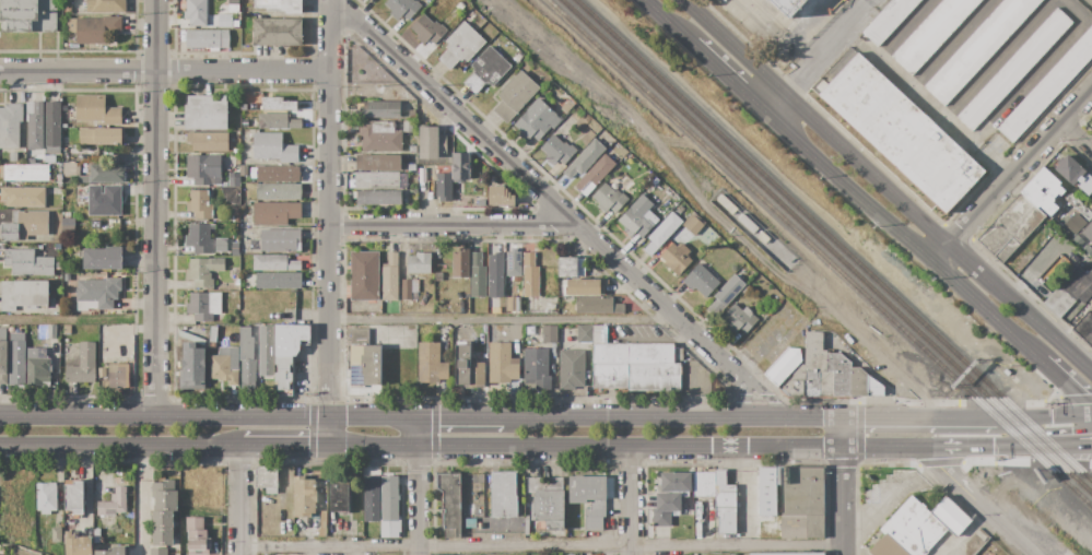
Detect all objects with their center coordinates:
building: (234, 3)
building: (281, 5)
building: (788, 5)
building: (106, 7)
building: (460, 7)
building: (402, 8)
building: (67, 9)
building: (196, 13)
building: (28, 16)
building: (471, 17)
building: (886, 20)
road: (669, 22)
building: (236, 24)
building: (97, 28)
building: (428, 29)
building: (278, 32)
building: (492, 33)
building: (930, 33)
building: (236, 34)
building: (245, 35)
building: (208, 39)
road: (823, 45)
building: (460, 46)
building: (978, 49)
building: (518, 57)
building: (486, 70)
road: (165, 71)
building: (1013, 71)
road: (727, 78)
building: (1047, 88)
building: (515, 96)
building: (278, 104)
building: (250, 107)
building: (567, 107)
building: (95, 109)
building: (380, 110)
building: (206, 113)
building: (412, 114)
road: (939, 114)
building: (277, 121)
building: (536, 121)
building: (10, 125)
building: (1091, 125)
building: (407, 126)
building: (35, 127)
building: (52, 129)
building: (897, 130)
road: (1079, 133)
building: (380, 135)
building: (102, 137)
building: (213, 141)
building: (431, 142)
building: (273, 147)
building: (412, 150)
building: (235, 151)
building: (557, 151)
building: (13, 156)
building: (50, 160)
building: (585, 160)
building: (243, 161)
building: (39, 162)
building: (378, 163)
building: (461, 166)
building: (71, 169)
building: (203, 169)
building: (1069, 169)
building: (24, 173)
building: (107, 174)
building: (278, 175)
building: (596, 175)
road: (1011, 178)
building: (83, 180)
building: (381, 180)
building: (234, 181)
building: (1085, 185)
building: (444, 187)
road: (537, 187)
road: (885, 188)
building: (54, 190)
building: (279, 191)
building: (1043, 191)
building: (232, 193)
building: (23, 197)
building: (500, 197)
building: (378, 198)
building: (610, 199)
building: (105, 200)
building: (200, 204)
building: (726, 204)
building: (1079, 206)
building: (1091, 206)
railway: (773, 208)
road: (157, 209)
building: (275, 213)
building: (236, 219)
building: (67, 223)
road: (330, 223)
building: (636, 223)
building: (1073, 223)
building: (748, 224)
building: (95, 225)
building: (692, 225)
building: (25, 226)
road: (455, 227)
building: (1011, 227)
building: (661, 233)
building: (1088, 234)
road: (900, 236)
building: (763, 238)
building: (199, 239)
railway: (833, 239)
building: (280, 241)
building: (221, 246)
railway: (827, 247)
building: (235, 248)
building: (102, 258)
building: (676, 258)
building: (269, 262)
building: (27, 263)
building: (420, 263)
building: (460, 263)
building: (514, 264)
building: (58, 265)
building: (571, 267)
building: (203, 271)
building: (364, 275)
building: (530, 275)
building: (478, 276)
building: (495, 276)
building: (66, 277)
building: (250, 281)
building: (279, 281)
building: (701, 281)
building: (390, 284)
building: (586, 286)
building: (410, 290)
building: (30, 293)
building: (1067, 293)
building: (97, 294)
building: (725, 295)
building: (1090, 302)
building: (598, 305)
building: (203, 306)
building: (513, 306)
building: (551, 306)
building: (739, 319)
road: (501, 320)
building: (1084, 328)
building: (67, 330)
building: (538, 330)
building: (43, 332)
building: (51, 332)
building: (492, 333)
building: (584, 333)
building: (213, 334)
building: (550, 334)
road: (646, 334)
building: (526, 336)
building: (105, 338)
building: (291, 339)
building: (267, 340)
building: (246, 343)
road: (766, 344)
building: (212, 346)
building: (3, 356)
building: (365, 358)
building: (16, 359)
building: (431, 364)
building: (462, 364)
building: (502, 364)
building: (83, 365)
building: (225, 366)
building: (783, 366)
building: (536, 367)
building: (637, 367)
building: (572, 369)
building: (39, 371)
building: (248, 373)
building: (283, 373)
building: (478, 375)
building: (827, 375)
building: (118, 378)
road: (1066, 386)
building: (468, 392)
road: (765, 395)
road: (742, 397)
road: (1043, 417)
road: (209, 418)
traffic signals: (331, 418)
road: (461, 418)
road: (621, 418)
road: (764, 418)
road: (815, 418)
road: (917, 418)
road: (420, 433)
road: (841, 433)
road: (1073, 445)
road: (285, 447)
traffic signals: (331, 447)
road: (586, 447)
road: (119, 448)
road: (1002, 448)
road: (895, 449)
railway: (1043, 462)
building: (267, 480)
building: (676, 482)
building: (704, 483)
road: (741, 488)
building: (766, 491)
building: (504, 495)
building: (165, 496)
building: (340, 496)
building: (46, 497)
building: (304, 497)
building: (74, 498)
building: (372, 498)
building: (389, 498)
building: (589, 498)
road: (140, 500)
road: (238, 500)
road: (420, 500)
road: (630, 500)
building: (549, 501)
road: (841, 501)
building: (114, 503)
building: (801, 503)
building: (450, 505)
building: (725, 505)
road: (985, 506)
building: (666, 508)
building: (951, 516)
building: (163, 520)
building: (324, 520)
building: (109, 521)
building: (481, 526)
building: (526, 526)
building: (905, 531)
road: (968, 532)
building: (56, 535)
building: (163, 536)
building: (197, 536)
building: (78, 545)
road: (540, 546)
building: (116, 551)
building: (158, 552)
building: (790, 554)

